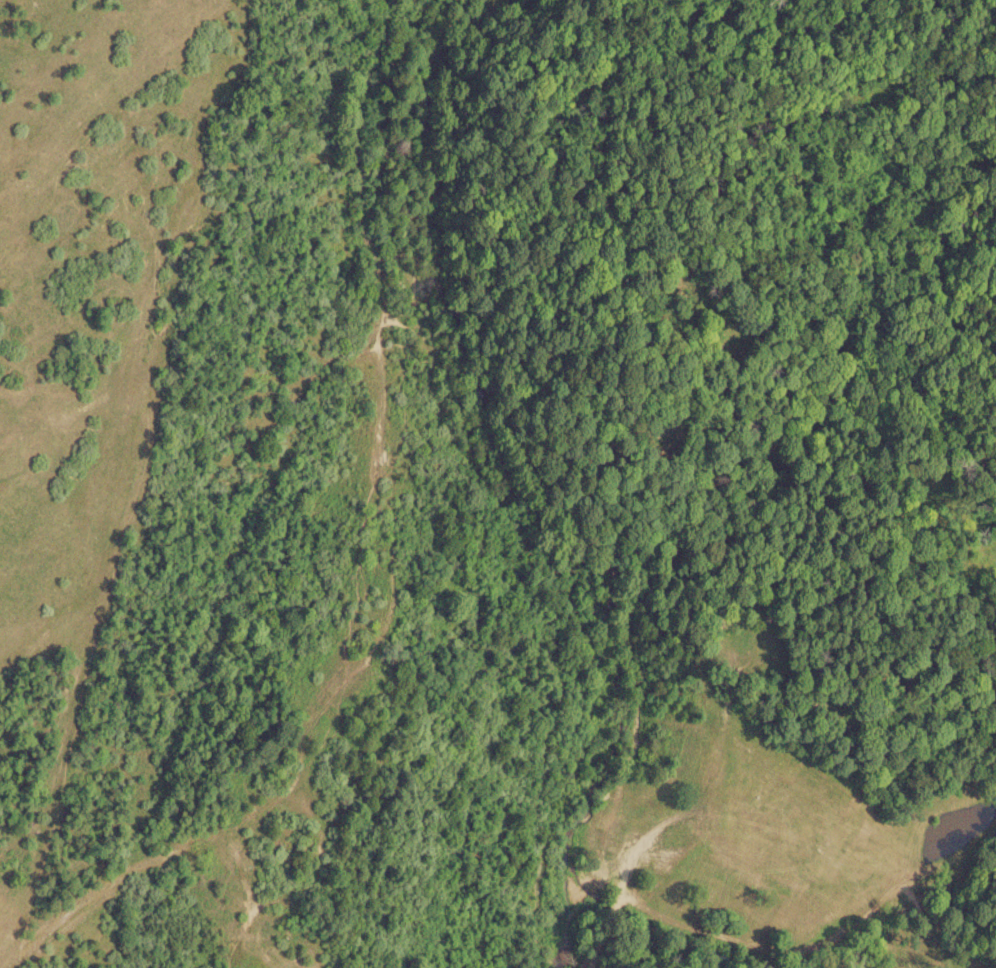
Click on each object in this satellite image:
road: (222, 491)

